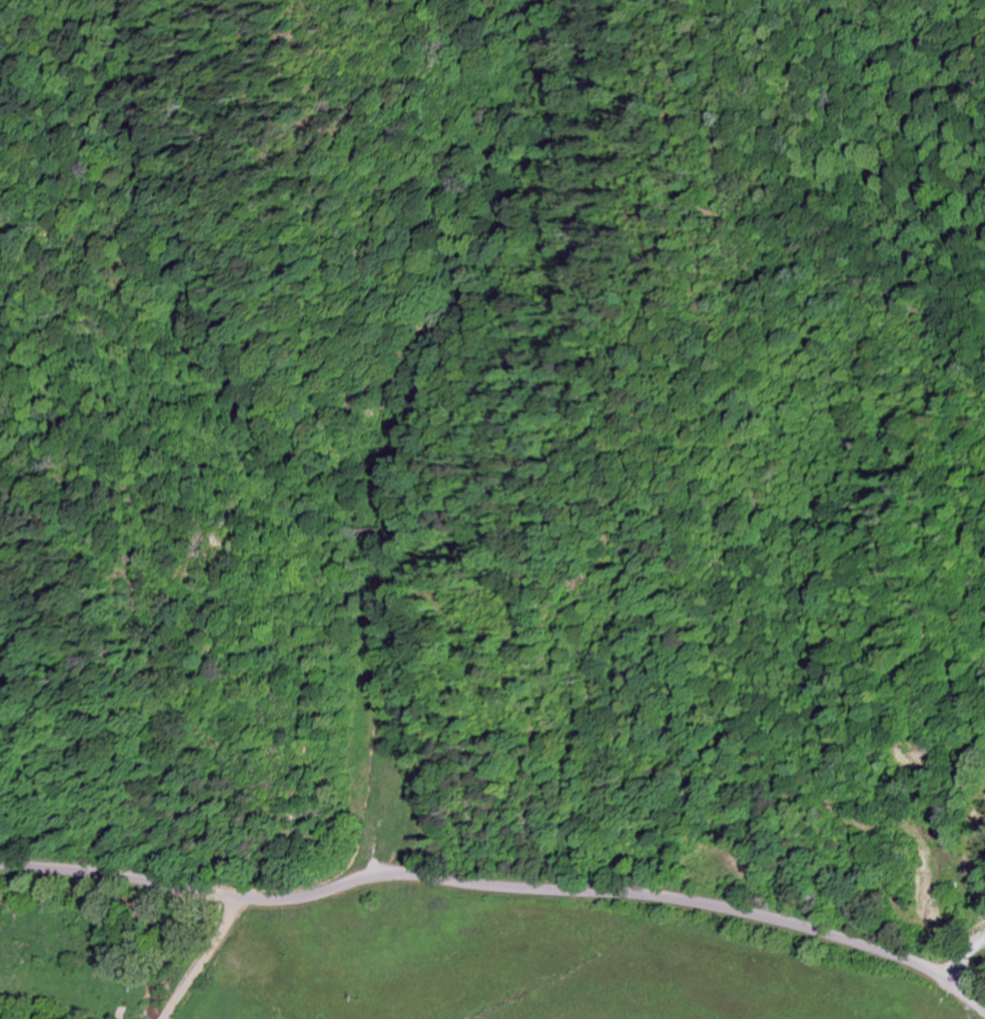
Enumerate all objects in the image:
road: (500, 889)
road: (206, 959)
road: (964, 962)

